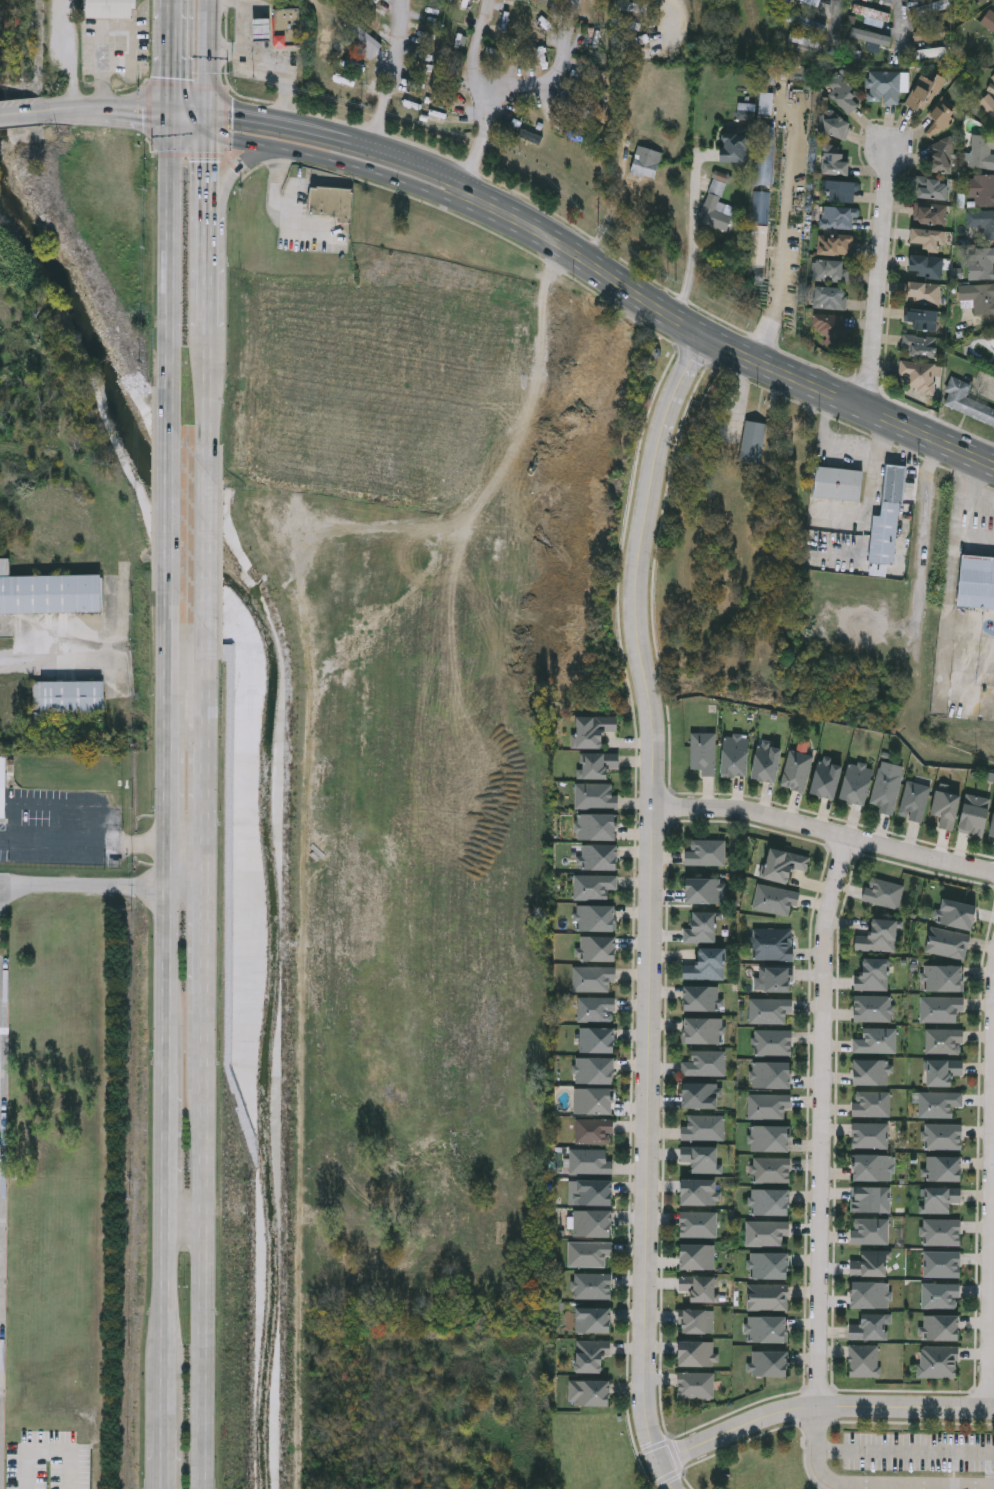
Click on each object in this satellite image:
building: (980, 0)
building: (812, 2)
building: (629, 7)
building: (934, 7)
building: (110, 9)
building: (805, 22)
road: (903, 22)
road: (245, 24)
road: (834, 24)
building: (989, 24)
building: (279, 28)
road: (100, 32)
building: (929, 33)
building: (591, 36)
building: (867, 36)
gas station: (263, 45)
road: (479, 47)
road: (227, 52)
road: (208, 54)
road: (68, 56)
road: (170, 57)
road: (391, 73)
road: (286, 74)
road: (556, 74)
building: (884, 84)
building: (924, 91)
building: (842, 93)
building: (766, 103)
building: (987, 104)
traffic signals: (208, 109)
road: (189, 111)
road: (107, 113)
road: (22, 114)
traffic signals: (170, 114)
building: (941, 115)
road: (267, 118)
road: (208, 122)
road: (189, 124)
building: (835, 125)
traffic signals: (208, 135)
road: (479, 145)
building: (732, 147)
building: (982, 150)
building: (767, 154)
building: (942, 155)
road: (403, 156)
building: (645, 160)
building: (833, 160)
road: (341, 161)
road: (227, 182)
building: (930, 187)
building: (981, 189)
building: (837, 190)
road: (207, 191)
building: (331, 201)
building: (717, 203)
road: (290, 205)
road: (278, 211)
building: (928, 213)
building: (837, 216)
building: (981, 221)
building: (760, 225)
road: (782, 234)
building: (928, 238)
building: (834, 244)
road: (168, 252)
building: (980, 263)
building: (926, 264)
road: (691, 266)
building: (832, 269)
road: (881, 276)
road: (207, 288)
building: (921, 289)
building: (980, 296)
building: (829, 297)
building: (829, 328)
building: (993, 332)
building: (920, 334)
building: (993, 335)
road: (725, 344)
road: (206, 375)
building: (917, 375)
building: (966, 398)
building: (751, 440)
road: (843, 448)
building: (838, 482)
road: (167, 484)
road: (869, 495)
road: (205, 510)
road: (961, 510)
building: (888, 515)
building: (492, 550)
building: (976, 581)
building: (48, 590)
road: (46, 665)
building: (68, 694)
building: (592, 731)
road: (205, 744)
building: (703, 753)
building: (735, 756)
building: (765, 762)
building: (596, 765)
building: (796, 770)
building: (826, 779)
building: (855, 783)
building: (3, 787)
building: (886, 790)
building: (595, 797)
building: (914, 801)
building: (945, 807)
building: (973, 815)
building: (596, 827)
building: (991, 828)
road: (826, 831)
road: (164, 833)
road: (102, 841)
building: (704, 852)
building: (598, 858)
building: (782, 864)
road: (102, 885)
building: (594, 886)
building: (702, 890)
building: (883, 893)
building: (774, 899)
road: (655, 908)
building: (956, 914)
building: (595, 919)
building: (700, 926)
building: (878, 936)
road: (204, 940)
building: (947, 943)
building: (771, 945)
building: (596, 949)
building: (705, 966)
building: (872, 974)
building: (591, 978)
building: (945, 978)
building: (774, 980)
building: (702, 999)
building: (872, 1008)
building: (595, 1009)
building: (941, 1009)
building: (769, 1010)
building: (703, 1031)
building: (595, 1039)
building: (876, 1041)
building: (944, 1041)
building: (772, 1043)
building: (704, 1063)
building: (592, 1070)
building: (871, 1071)
building: (942, 1071)
building: (771, 1074)
building: (698, 1094)
building: (592, 1100)
building: (939, 1103)
building: (871, 1104)
building: (767, 1105)
road: (826, 1121)
building: (702, 1127)
building: (592, 1130)
building: (870, 1135)
building: (943, 1136)
building: (769, 1138)
road: (161, 1151)
road: (0, 1157)
building: (699, 1158)
building: (587, 1161)
building: (871, 1167)
building: (943, 1168)
building: (771, 1170)
building: (591, 1192)
building: (696, 1192)
building: (939, 1198)
building: (870, 1199)
building: (769, 1202)
road: (181, 1216)
building: (589, 1223)
building: (696, 1224)
building: (869, 1231)
building: (765, 1232)
building: (941, 1232)
road: (202, 1240)
building: (587, 1254)
building: (694, 1256)
building: (869, 1263)
building: (941, 1264)
building: (768, 1265)
building: (591, 1286)
building: (695, 1288)
building: (1, 1291)
road: (160, 1294)
building: (867, 1295)
building: (939, 1295)
building: (766, 1297)
building: (590, 1319)
building: (694, 1321)
building: (869, 1327)
building: (940, 1327)
building: (766, 1329)
building: (694, 1354)
building: (589, 1355)
road: (993, 1355)
building: (863, 1361)
building: (938, 1362)
building: (768, 1363)
building: (693, 1385)
building: (587, 1392)
road: (823, 1407)
road: (160, 1431)
road: (905, 1450)
road: (871, 1484)

